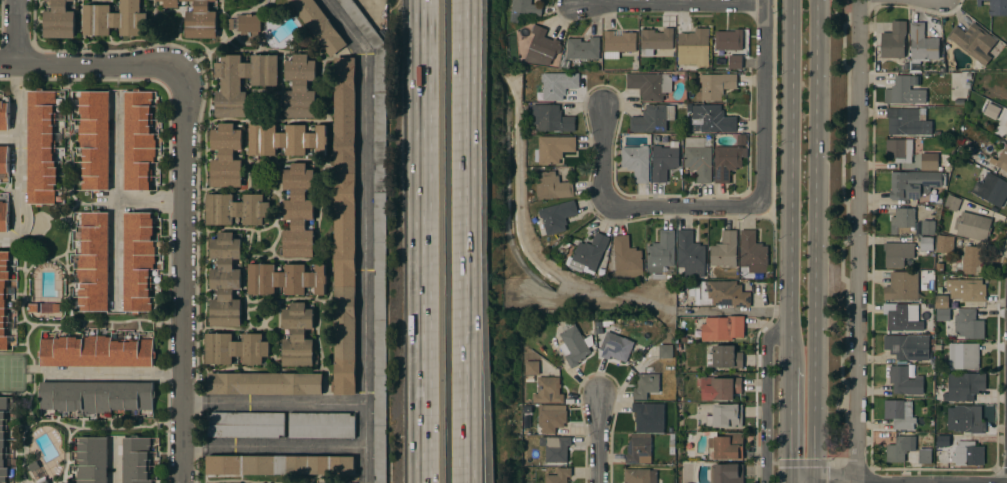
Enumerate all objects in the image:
road: (672, 5)
building: (995, 7)
building: (522, 9)
building: (114, 19)
building: (197, 19)
building: (59, 20)
building: (319, 25)
building: (249, 27)
road: (343, 27)
road: (18, 32)
building: (656, 39)
building: (728, 40)
building: (893, 41)
building: (973, 42)
building: (618, 44)
building: (378, 46)
building: (694, 47)
building: (920, 47)
building: (542, 48)
building: (583, 48)
building: (735, 63)
road: (92, 65)
building: (555, 85)
building: (649, 85)
building: (714, 85)
building: (300, 87)
building: (231, 88)
building: (904, 92)
road: (765, 101)
building: (992, 111)
building: (4, 115)
building: (553, 118)
building: (652, 118)
building: (712, 119)
building: (908, 121)
building: (1002, 122)
building: (1006, 137)
road: (11, 140)
building: (94, 140)
building: (138, 140)
building: (286, 140)
building: (41, 147)
building: (553, 149)
building: (899, 150)
road: (23, 153)
building: (226, 156)
road: (603, 156)
building: (698, 158)
building: (4, 160)
building: (664, 160)
building: (929, 161)
building: (636, 162)
building: (726, 162)
building: (1002, 162)
building: (380, 167)
building: (344, 170)
road: (793, 183)
building: (914, 184)
building: (552, 186)
building: (990, 188)
road: (119, 201)
road: (141, 203)
building: (952, 203)
road: (683, 208)
building: (235, 209)
building: (298, 211)
building: (3, 216)
building: (557, 216)
building: (909, 223)
building: (972, 226)
road: (424, 241)
road: (464, 241)
road: (469, 241)
road: (860, 241)
road: (11, 242)
road: (819, 242)
building: (926, 243)
building: (944, 244)
building: (725, 250)
building: (661, 252)
building: (752, 252)
building: (897, 253)
building: (588, 254)
building: (690, 254)
building: (626, 258)
building: (94, 261)
building: (138, 261)
building: (969, 261)
road: (364, 268)
road: (185, 274)
building: (285, 279)
building: (225, 280)
building: (379, 281)
building: (902, 286)
building: (967, 289)
building: (718, 293)
building: (4, 298)
building: (941, 301)
building: (942, 314)
building: (902, 317)
building: (968, 324)
building: (722, 328)
building: (297, 336)
building: (344, 341)
building: (574, 345)
building: (380, 347)
building: (616, 347)
building: (907, 347)
building: (937, 347)
building: (234, 348)
building: (97, 351)
building: (665, 351)
building: (963, 355)
building: (724, 357)
building: (532, 368)
road: (111, 374)
building: (905, 380)
building: (264, 384)
building: (646, 385)
building: (964, 386)
building: (721, 389)
building: (547, 391)
building: (96, 396)
road: (767, 399)
building: (380, 400)
road: (275, 403)
building: (898, 413)
building: (725, 416)
building: (550, 417)
building: (649, 417)
building: (968, 419)
building: (245, 424)
building: (321, 425)
building: (526, 425)
road: (792, 425)
building: (3, 440)
road: (599, 440)
building: (943, 441)
building: (726, 445)
road: (275, 447)
building: (637, 447)
building: (555, 448)
building: (900, 448)
building: (380, 453)
building: (968, 453)
building: (924, 456)
building: (941, 456)
building: (92, 460)
building: (136, 460)
road: (117, 462)
building: (278, 464)
building: (726, 473)
building: (559, 476)
building: (639, 476)
building: (338, 482)

